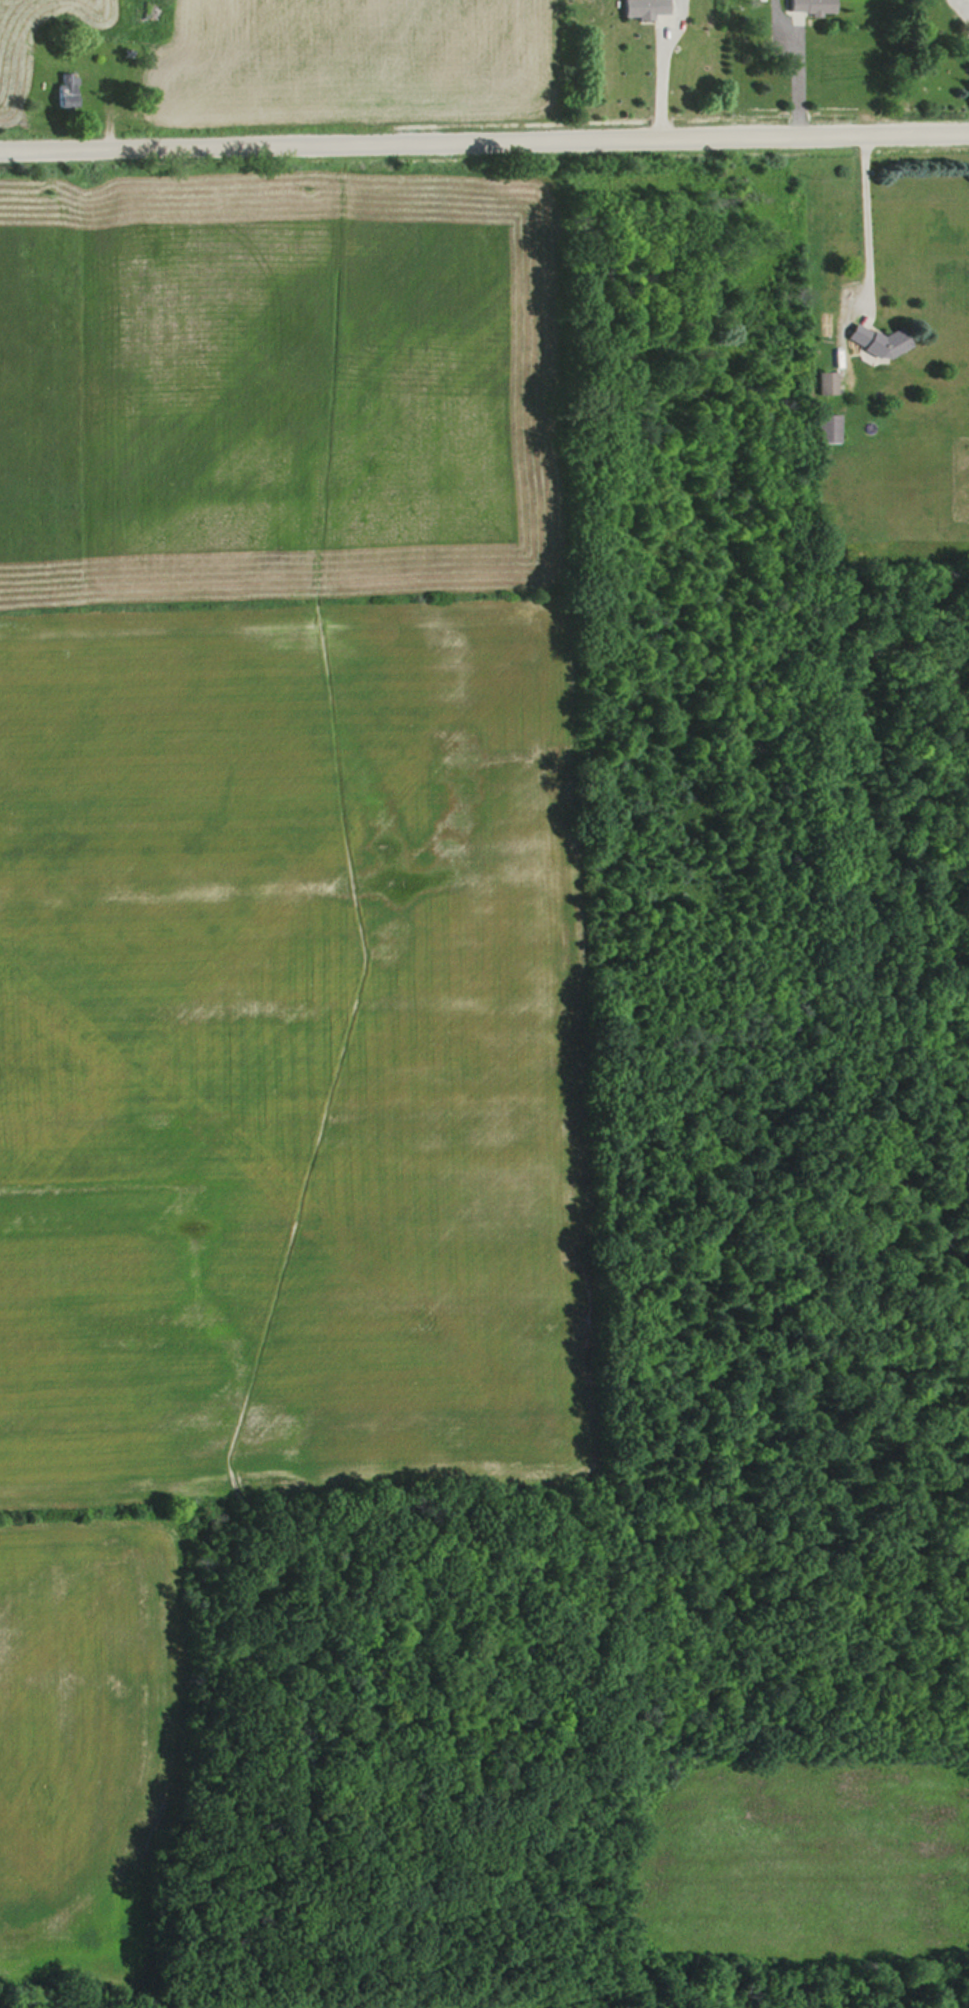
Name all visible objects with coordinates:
building: (805, 6)
building: (639, 8)
road: (666, 63)
road: (798, 77)
building: (62, 91)
road: (484, 141)
road: (867, 221)
building: (876, 343)
building: (823, 382)
building: (822, 427)

